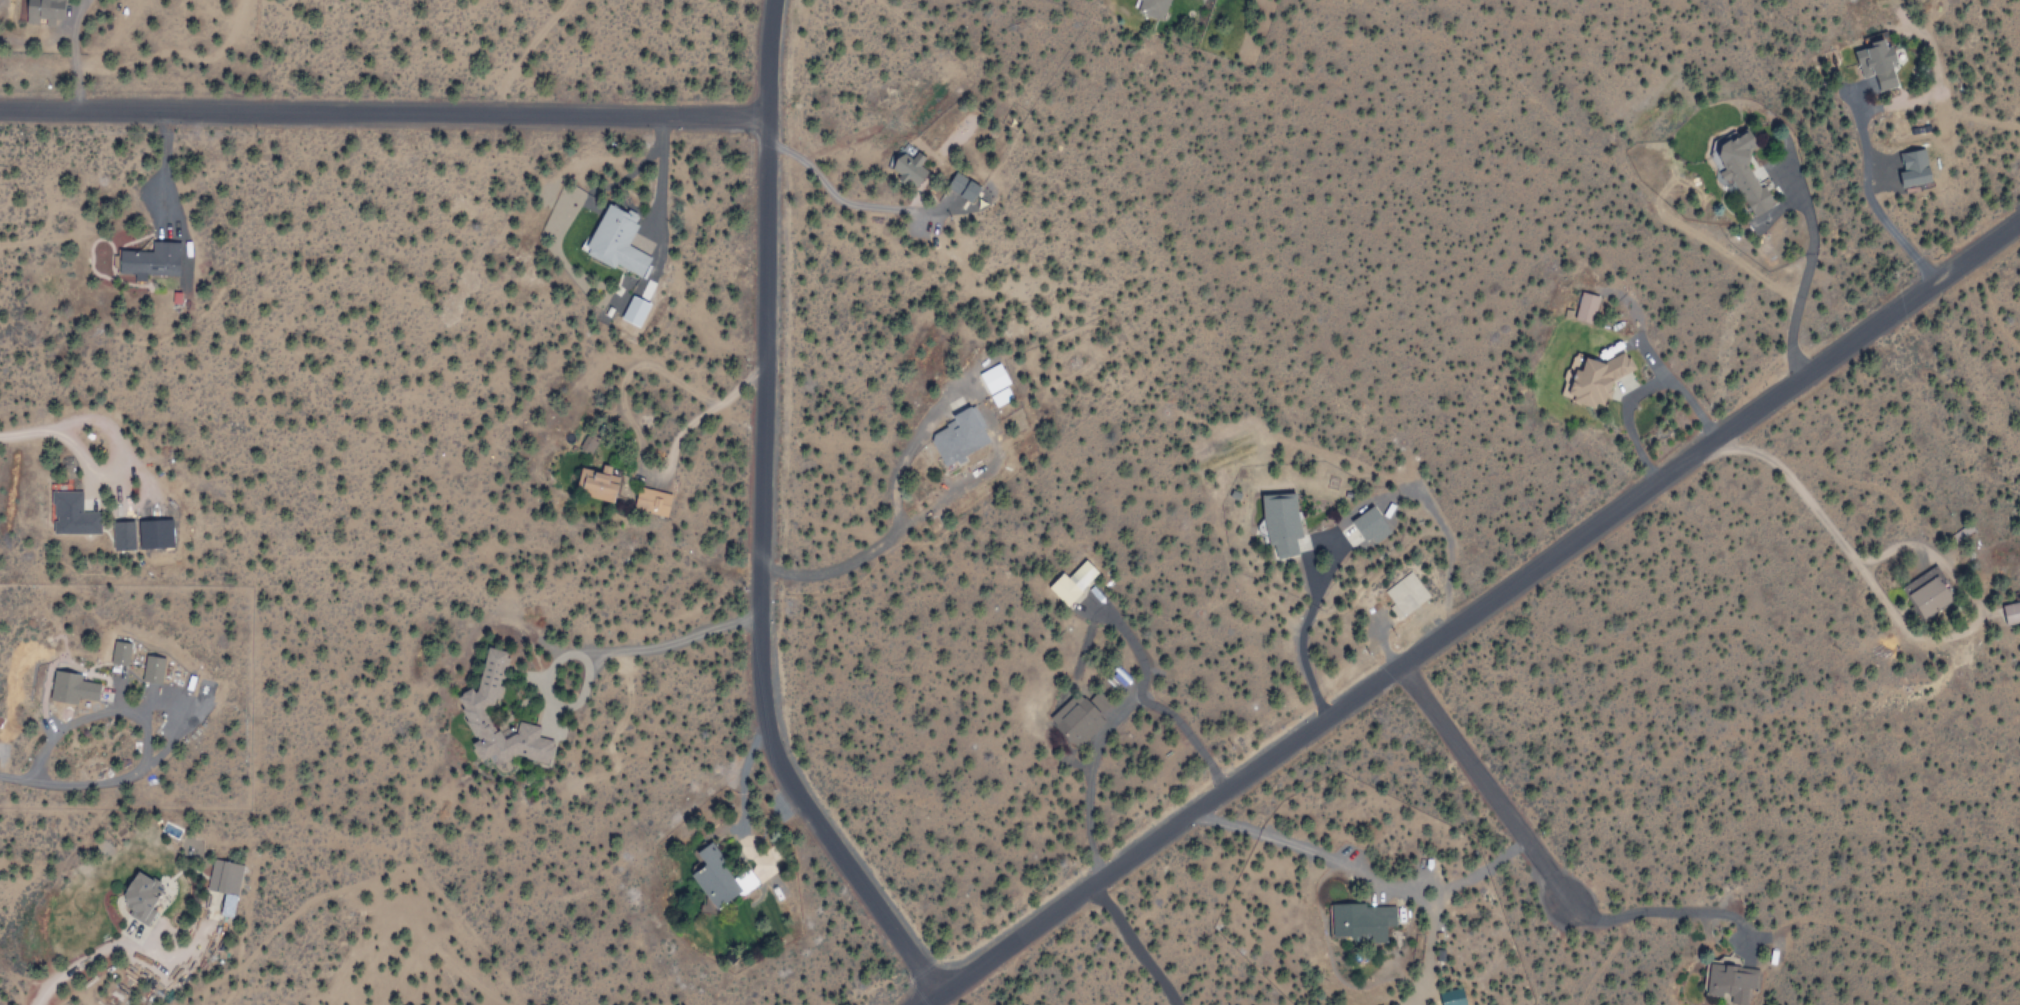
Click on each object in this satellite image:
building: (1151, 8)
building: (43, 12)
building: (1877, 64)
road: (384, 109)
building: (907, 166)
building: (1916, 167)
building: (1734, 174)
building: (961, 188)
building: (615, 241)
building: (150, 261)
building: (1585, 308)
building: (1597, 375)
building: (992, 384)
building: (957, 437)
building: (594, 485)
road: (1805, 488)
building: (650, 501)
building: (70, 514)
road: (762, 521)
building: (1281, 525)
building: (1368, 525)
building: (157, 533)
building: (122, 535)
building: (1072, 583)
building: (1404, 595)
building: (1928, 597)
road: (1481, 606)
building: (2011, 613)
building: (115, 653)
building: (155, 669)
building: (57, 687)
building: (474, 706)
building: (1073, 720)
road: (1483, 780)
building: (218, 877)
building: (718, 880)
building: (141, 900)
building: (1360, 922)
building: (1729, 983)
road: (928, 996)
building: (1454, 997)

